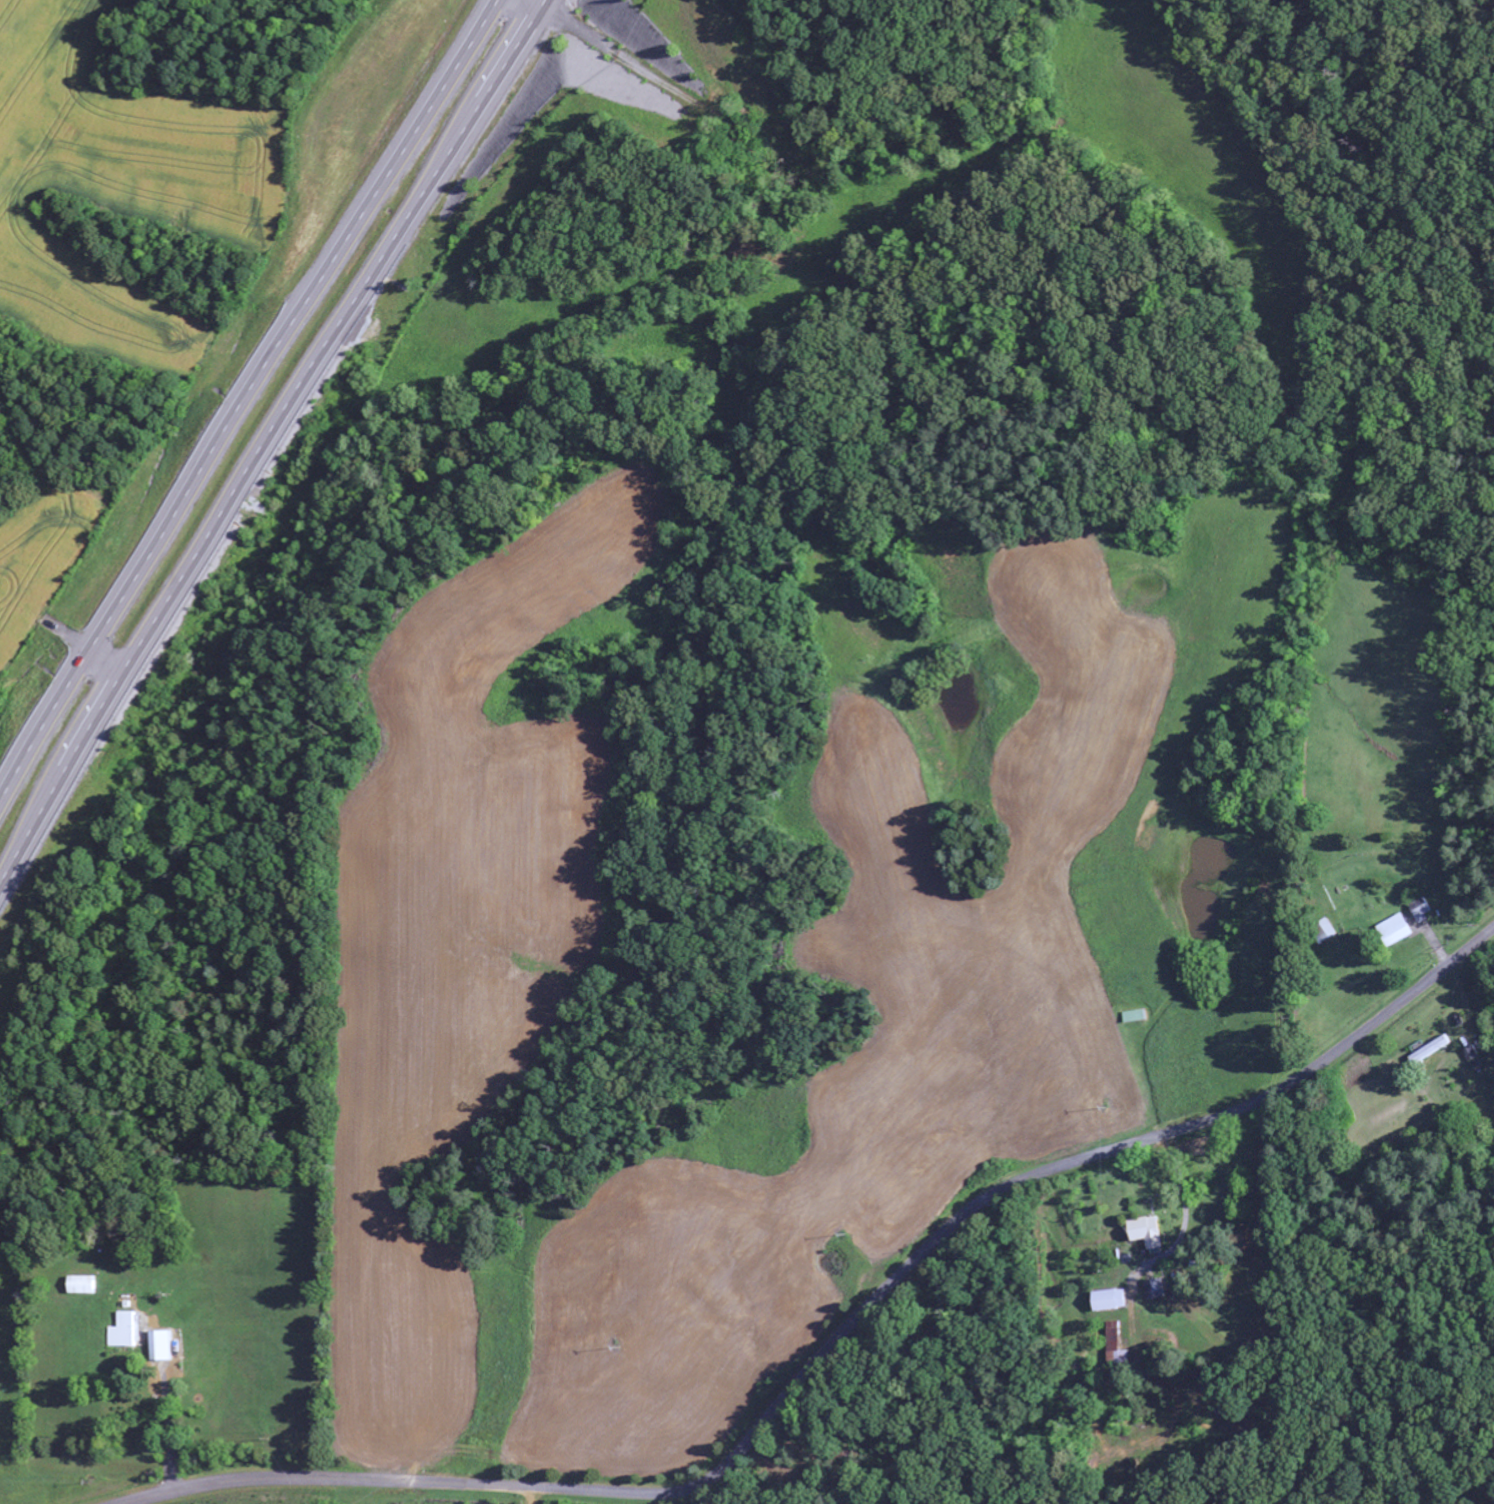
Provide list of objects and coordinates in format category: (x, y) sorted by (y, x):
road: (530, 2)
road: (244, 402)
road: (267, 440)
road: (116, 652)
building: (1418, 909)
building: (1392, 930)
building: (1321, 931)
building: (1429, 1050)
building: (1143, 1231)
building: (1153, 1289)
building: (1107, 1300)
building: (128, 1330)
road: (837, 1340)
building: (164, 1345)
road: (633, 1498)

